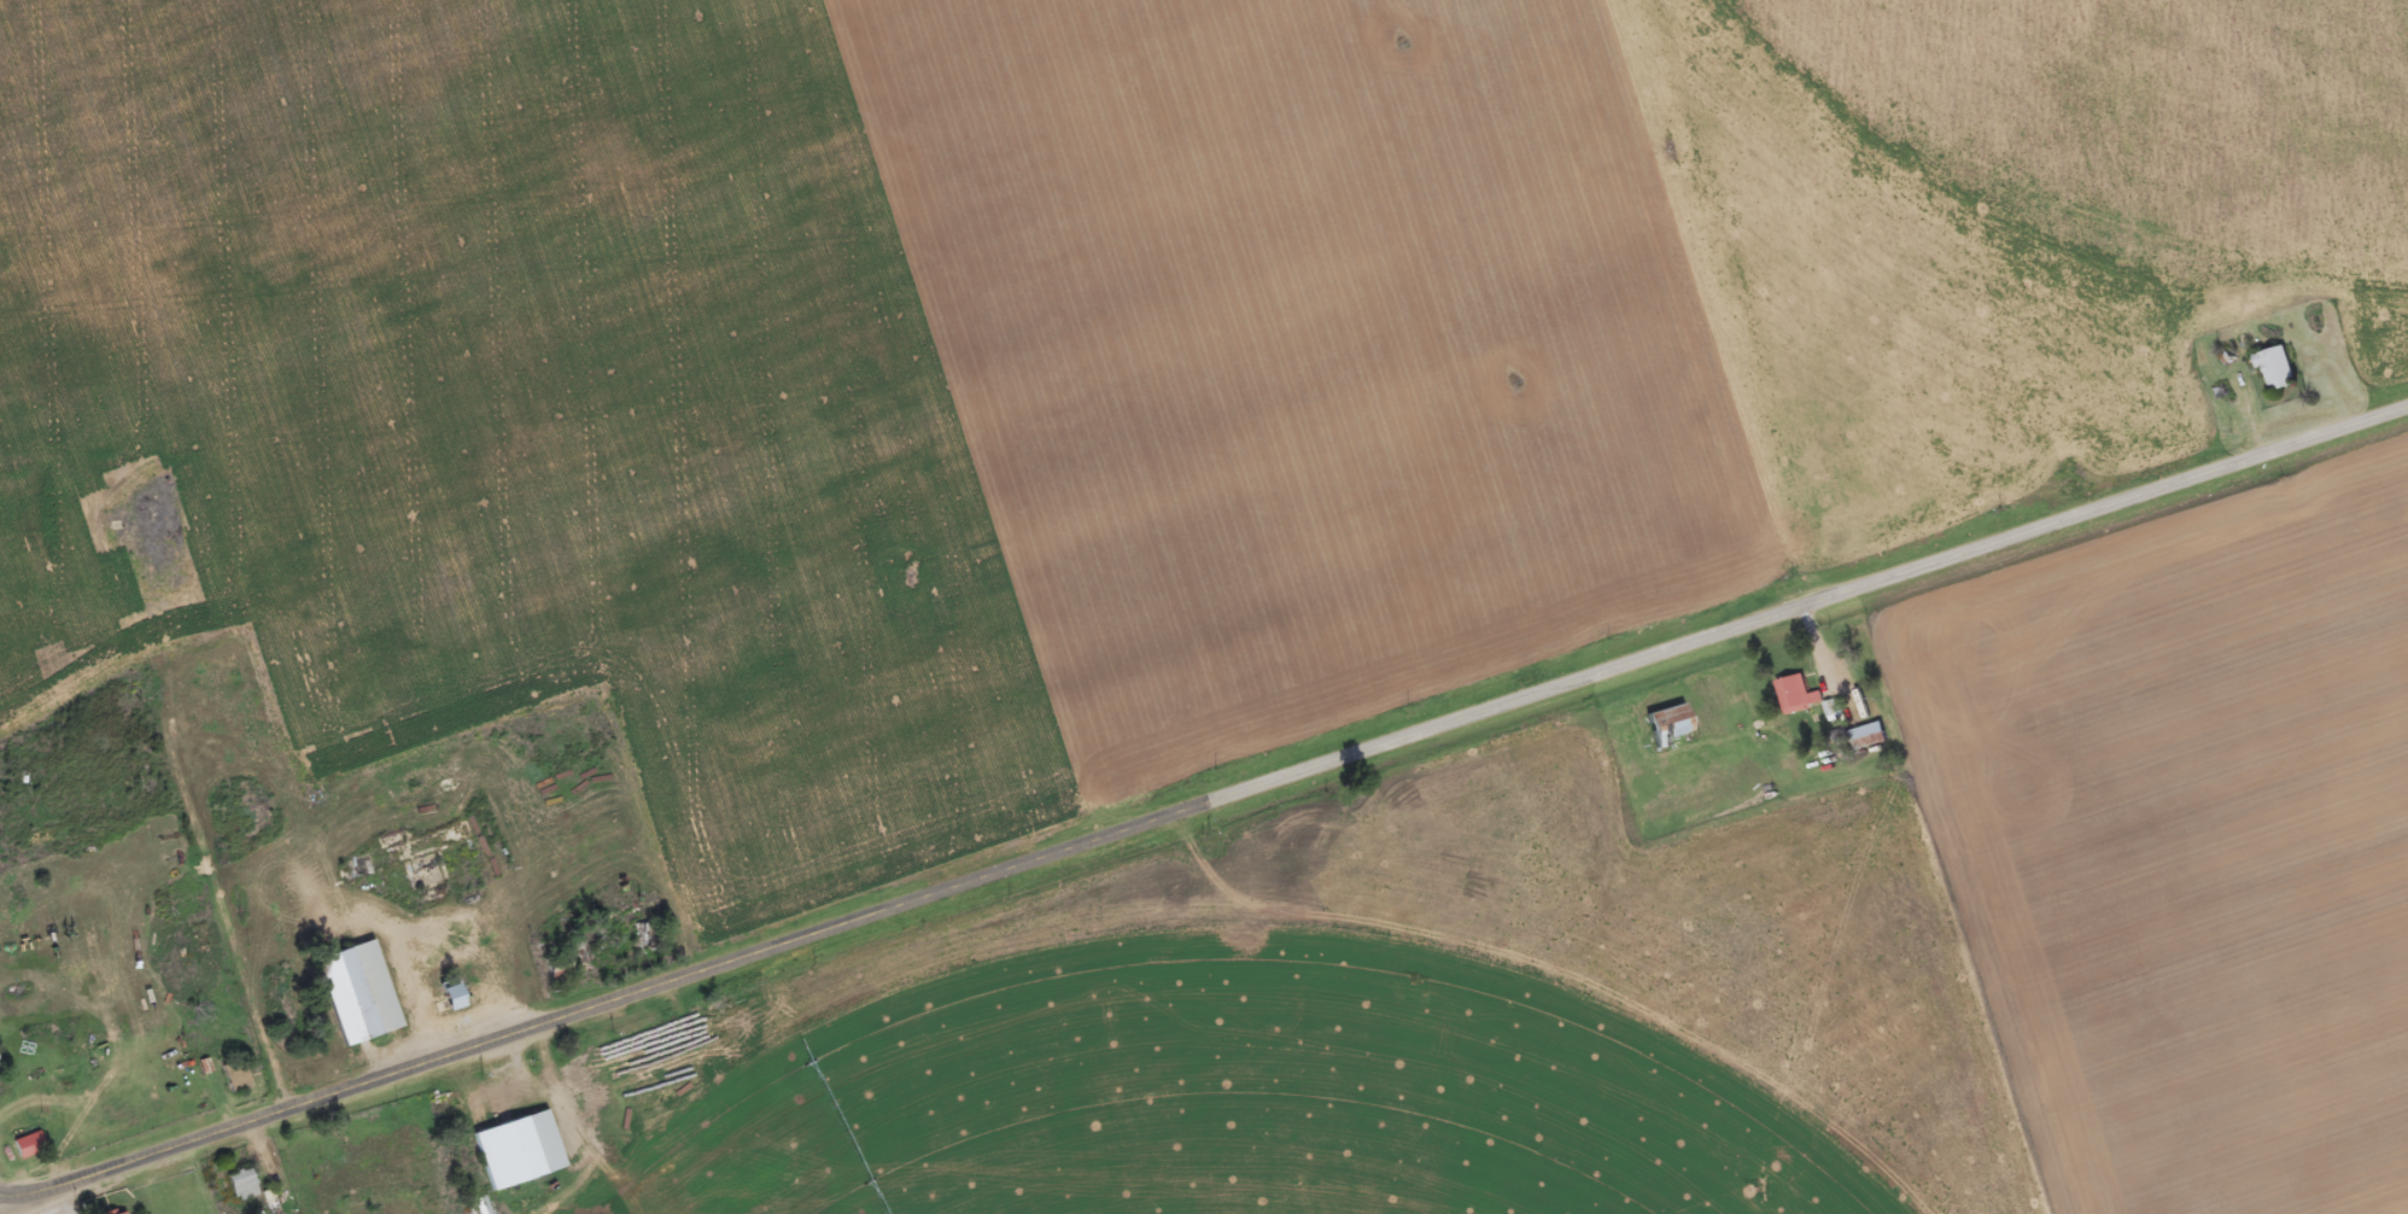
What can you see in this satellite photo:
building: (2280, 369)
road: (1846, 589)
building: (1801, 694)
building: (1673, 726)
building: (1870, 736)
building: (563, 969)
road: (644, 993)
building: (363, 994)
building: (457, 998)
building: (241, 1079)
building: (673, 1088)
building: (33, 1146)
building: (524, 1152)
building: (246, 1186)
building: (124, 1213)

